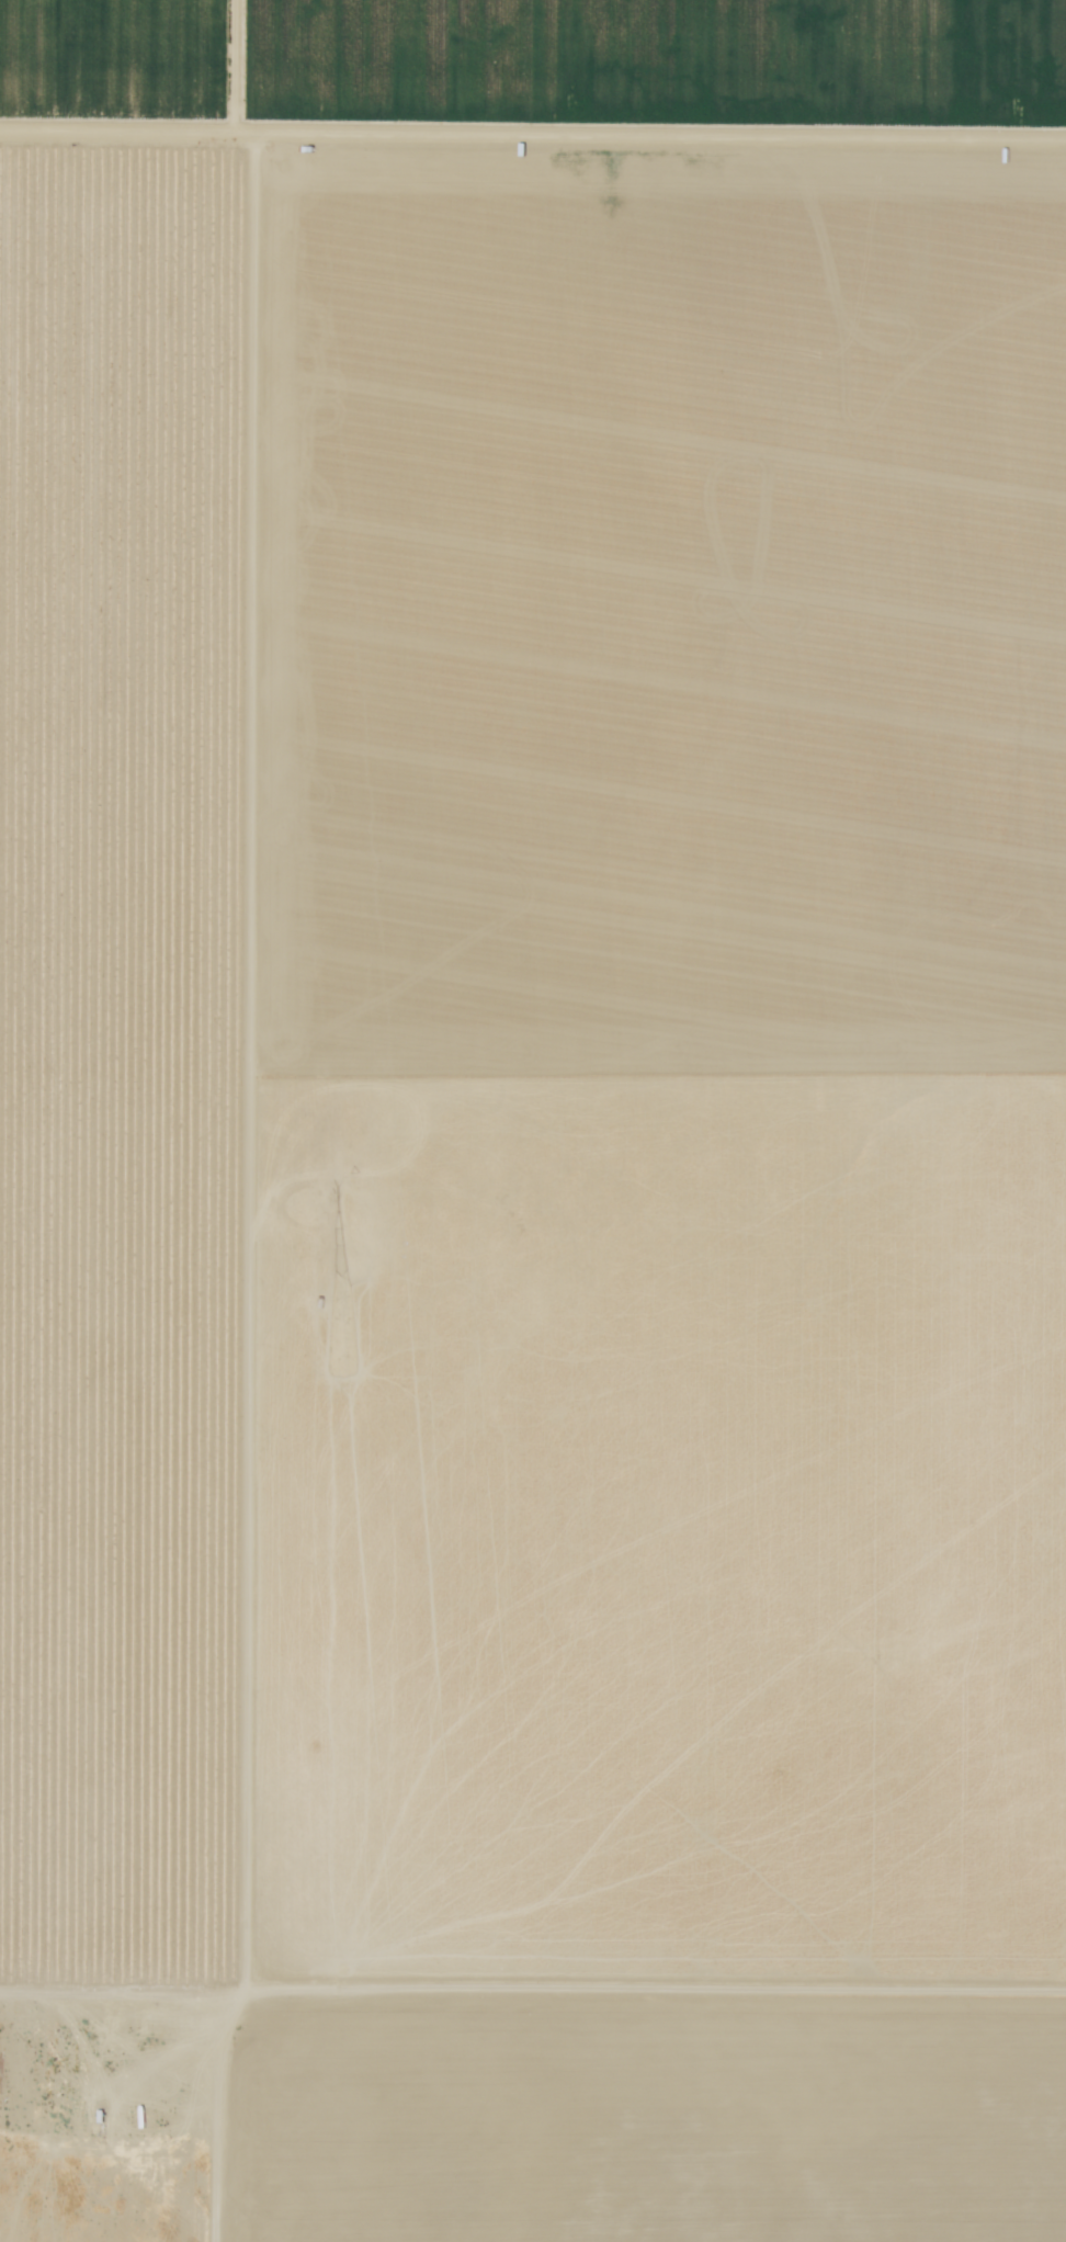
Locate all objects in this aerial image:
crop: (536, 70)
road: (533, 128)
road: (261, 1121)
road: (532, 1998)
crop: (631, 2119)

